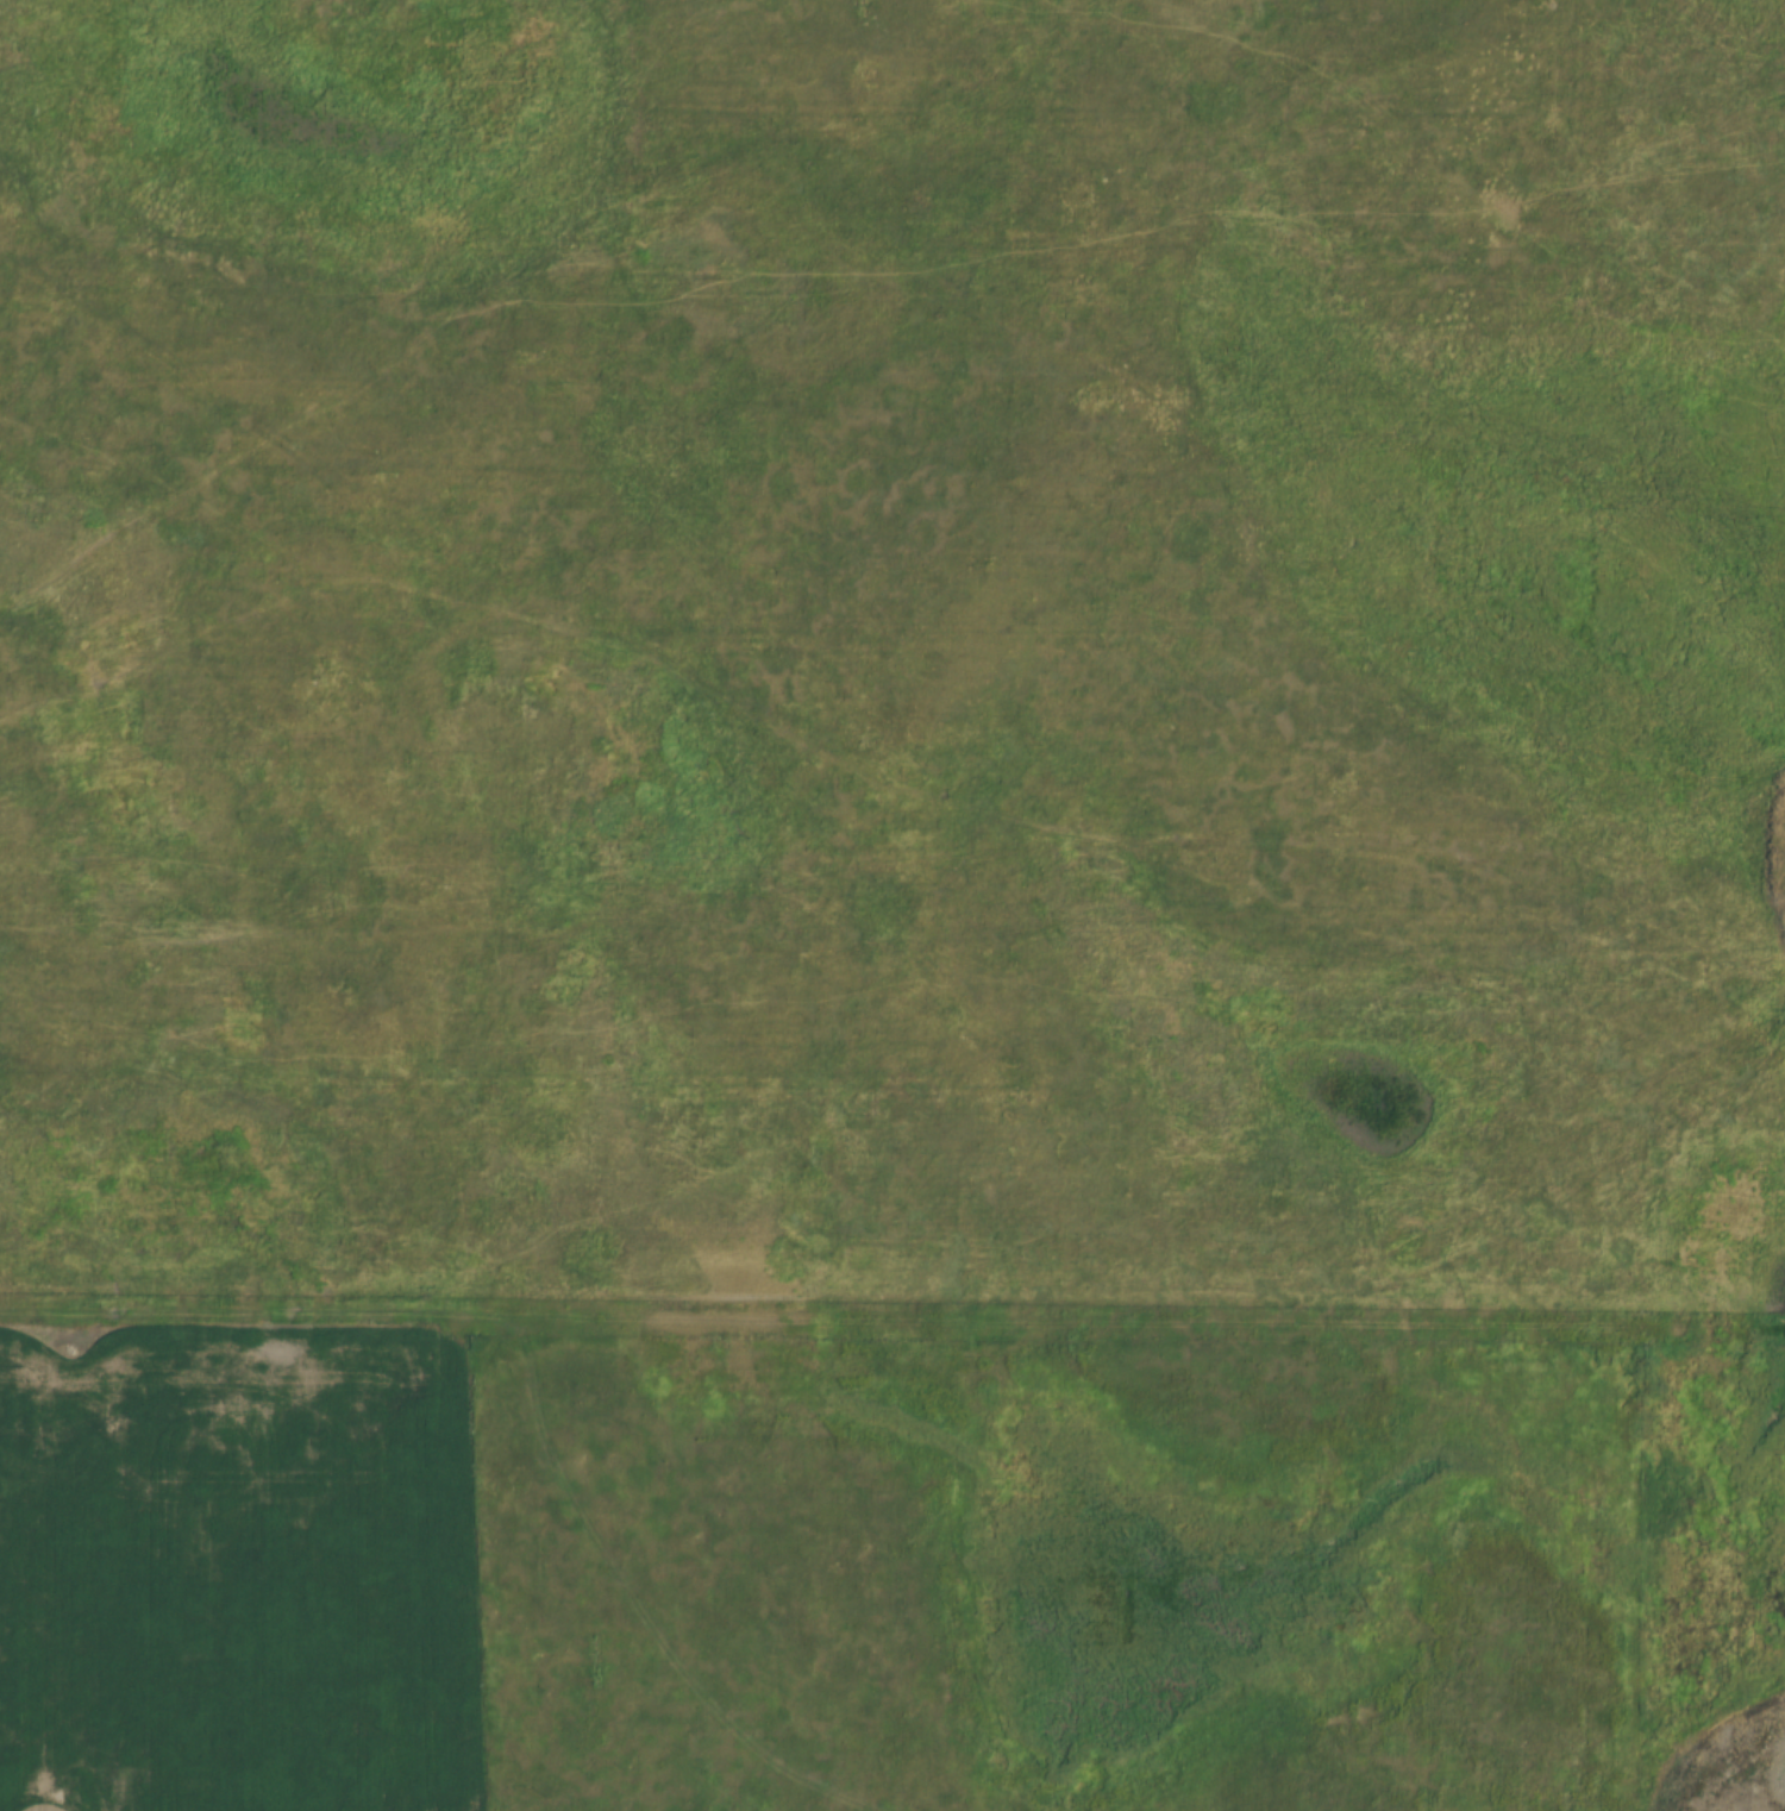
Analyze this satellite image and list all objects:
building: (798, 1624)

